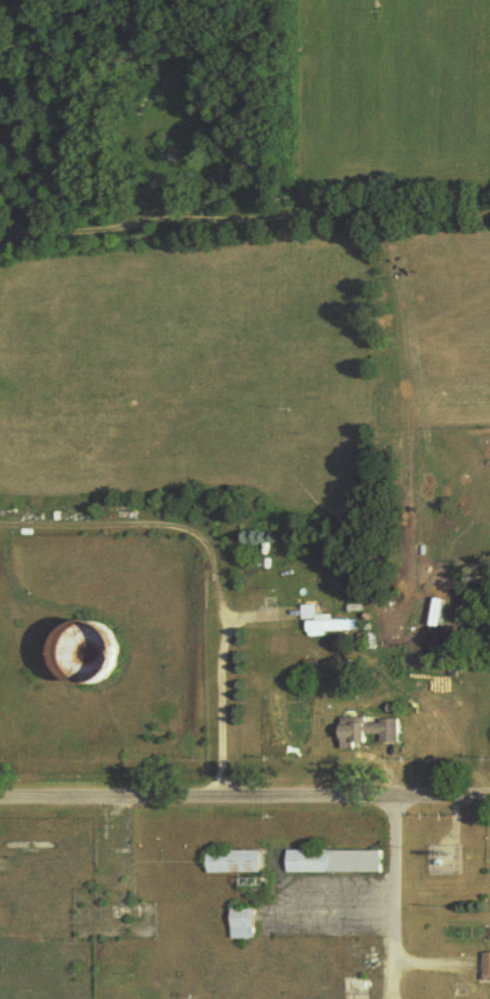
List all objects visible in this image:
road: (244, 225)
road: (218, 566)
building: (436, 613)
building: (326, 624)
building: (88, 658)
building: (367, 732)
road: (245, 801)
building: (333, 862)
building: (233, 863)
road: (398, 901)
building: (241, 924)
building: (486, 967)

